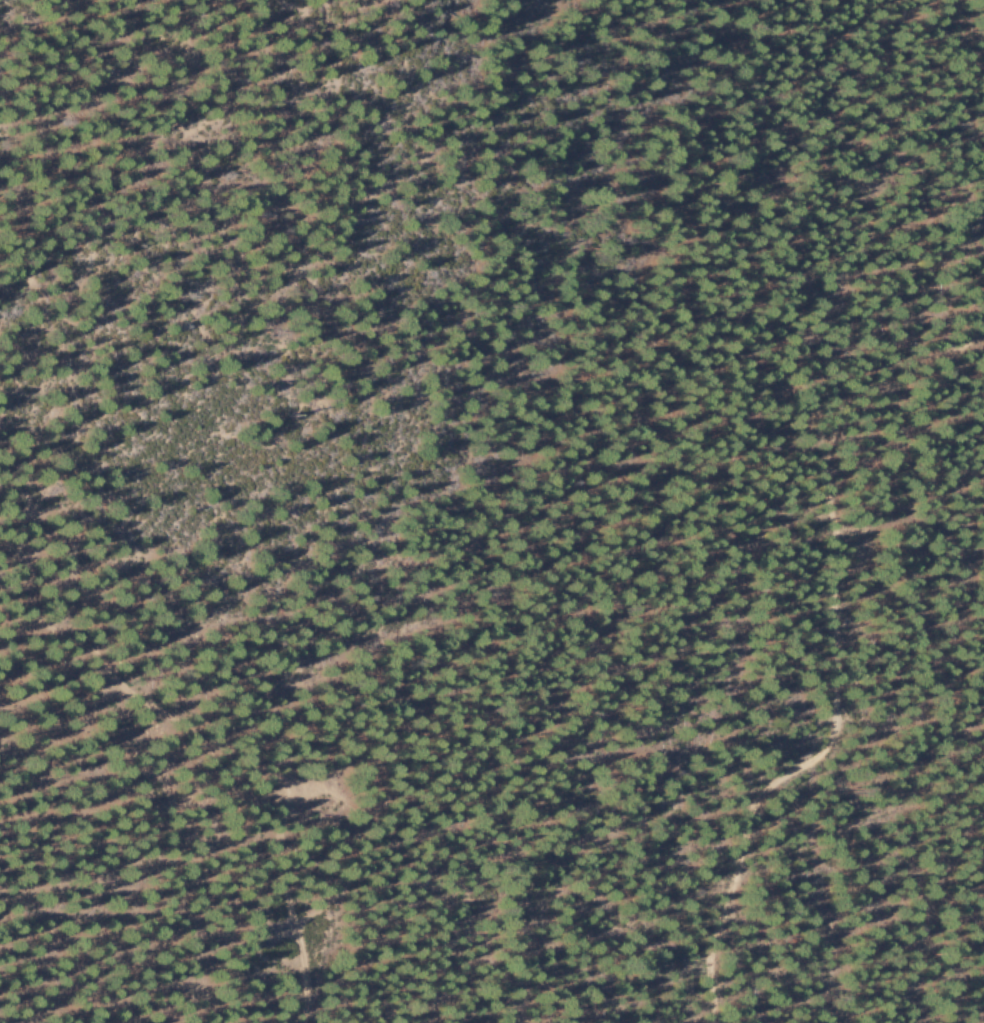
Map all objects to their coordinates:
road: (832, 654)
road: (306, 995)

